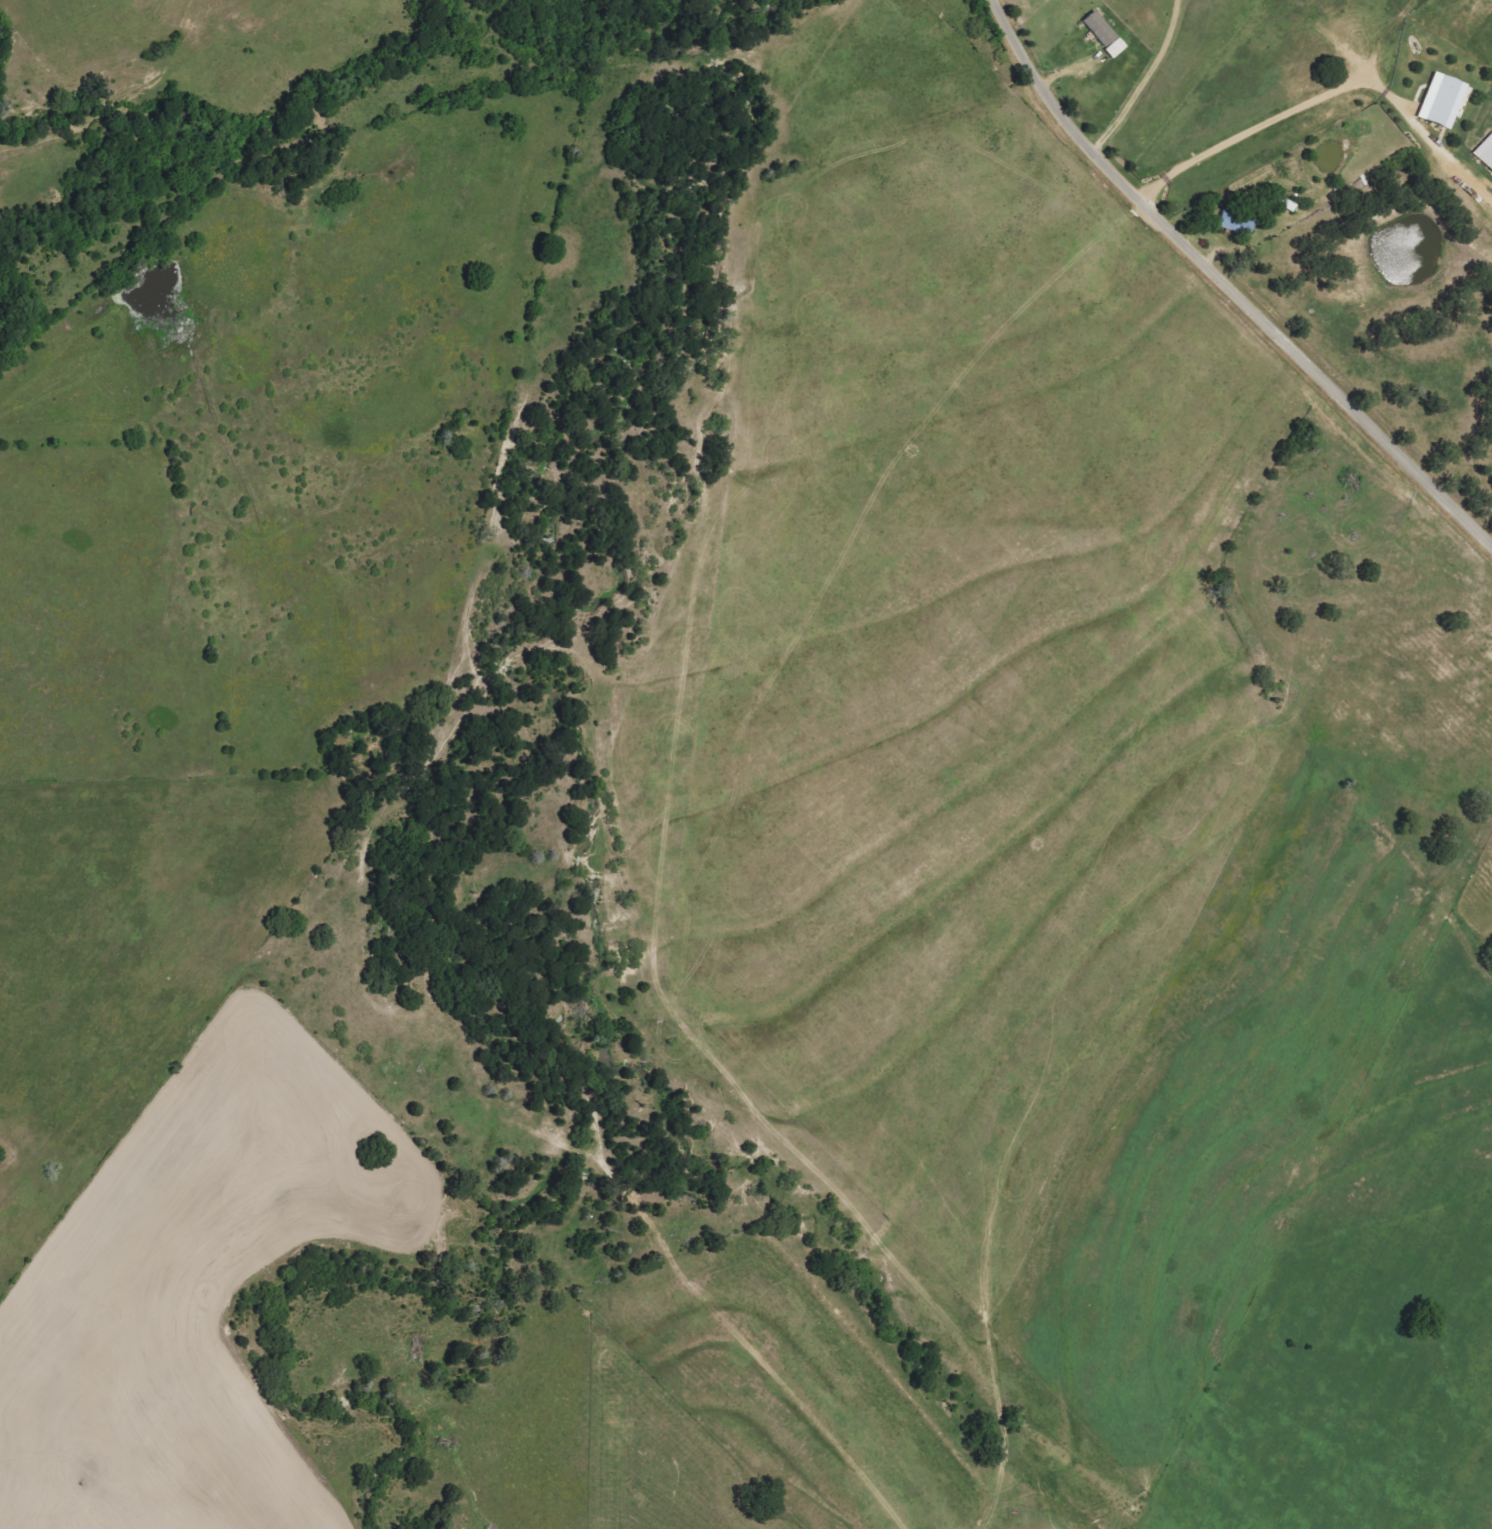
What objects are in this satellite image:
building: (1100, 28)
building: (1116, 48)
building: (1442, 100)
road: (1271, 119)
building: (1485, 152)
building: (1287, 204)
building: (1237, 223)
road: (1226, 284)
road: (1249, 406)

